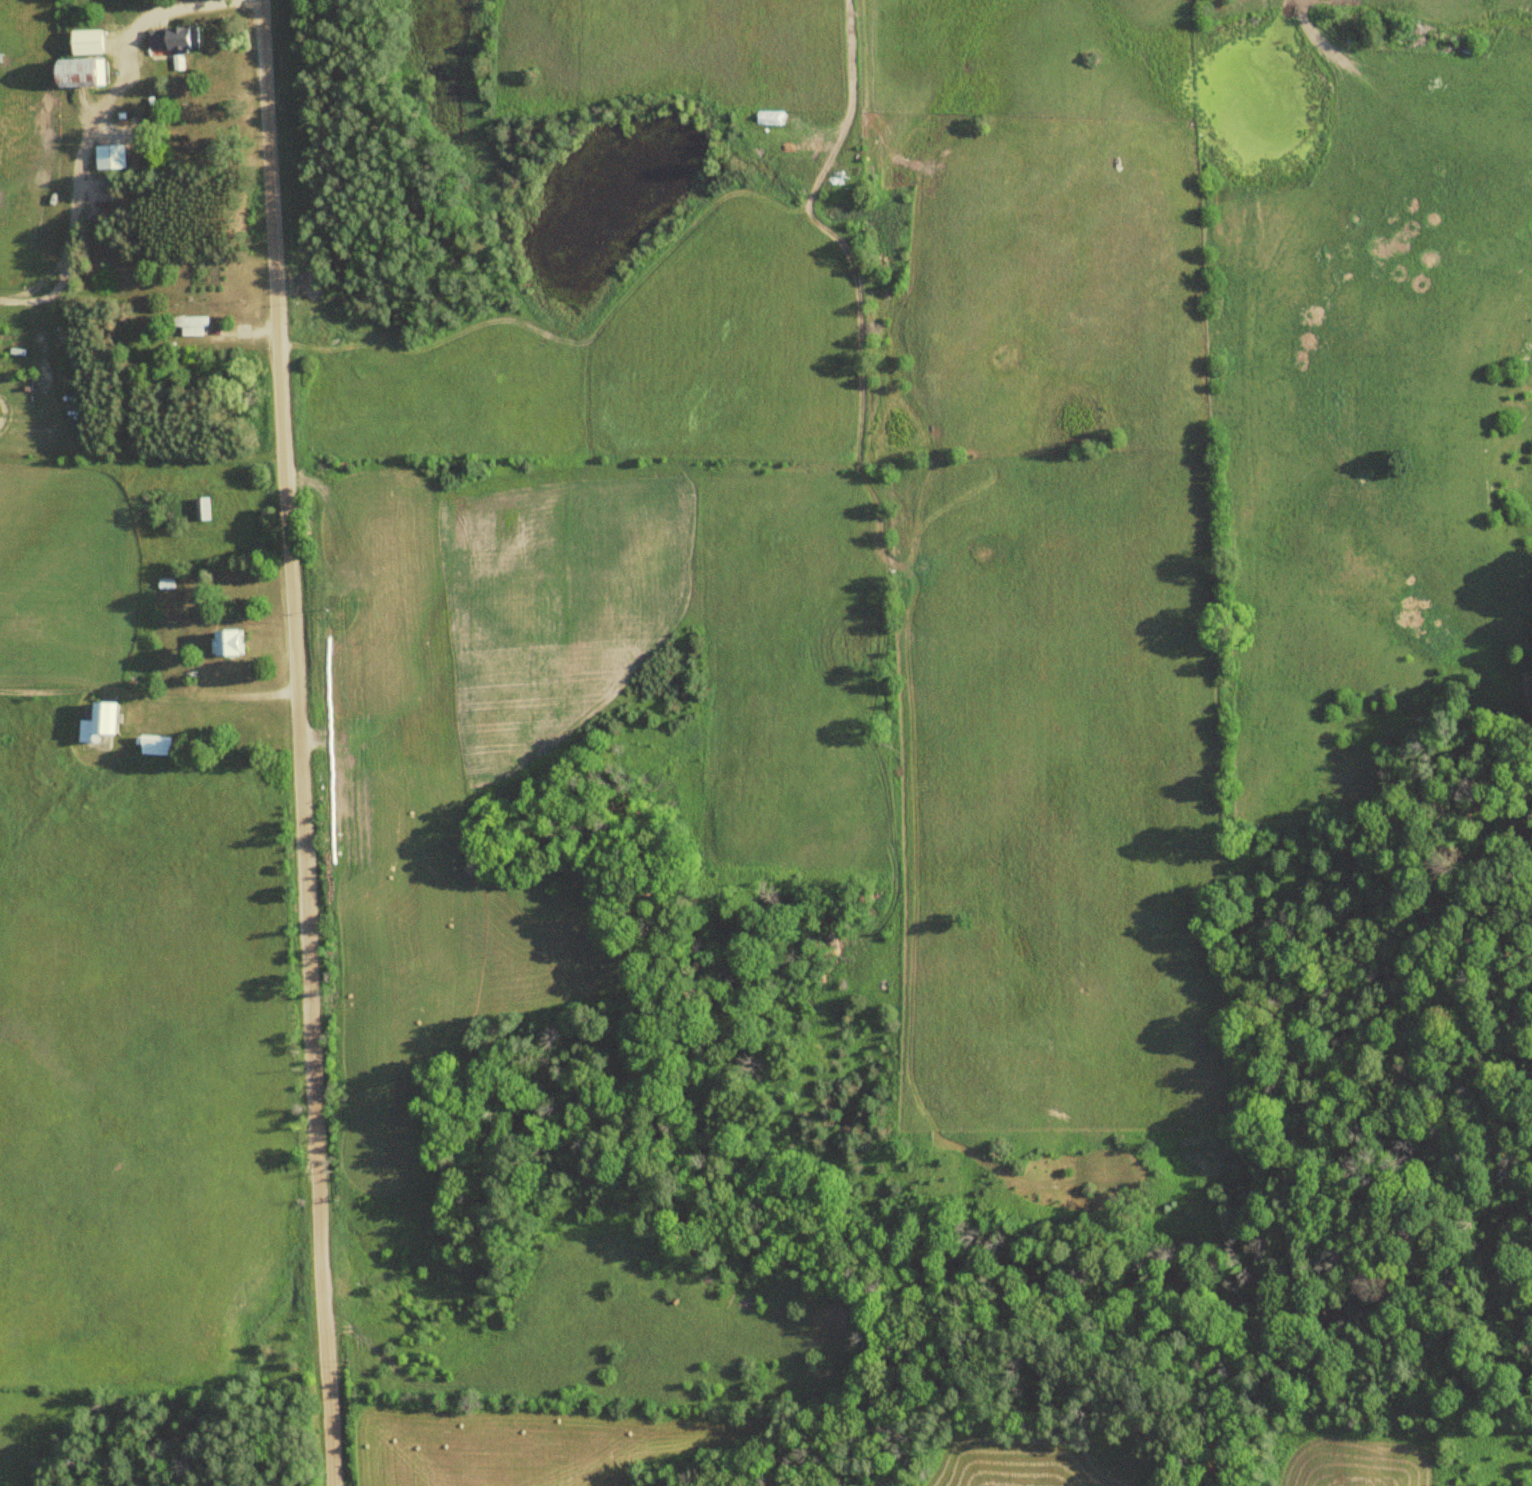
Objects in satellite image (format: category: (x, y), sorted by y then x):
building: (176, 37)
building: (92, 40)
building: (88, 71)
building: (114, 156)
building: (193, 325)
building: (205, 508)
building: (233, 642)
building: (106, 723)
road: (298, 742)
building: (160, 745)

